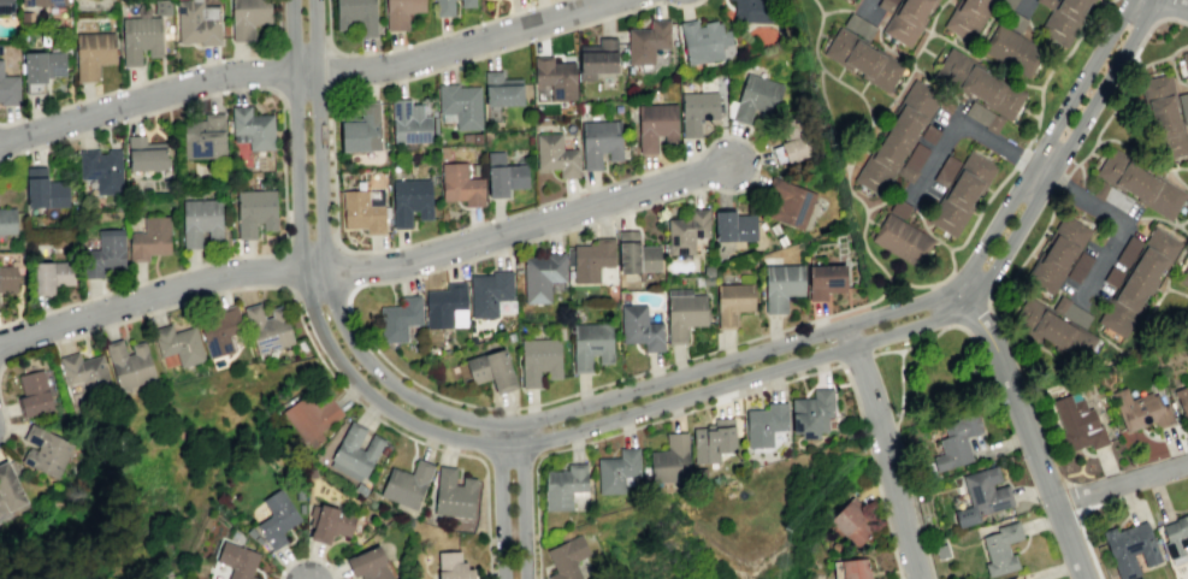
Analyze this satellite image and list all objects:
building: (1011, 1)
building: (41, 2)
building: (466, 2)
building: (886, 4)
road: (1172, 4)
road: (1021, 5)
building: (6, 6)
building: (161, 7)
building: (443, 7)
road: (1166, 8)
road: (835, 10)
road: (870, 10)
building: (751, 11)
building: (400, 12)
building: (965, 14)
building: (355, 16)
building: (247, 17)
road: (863, 17)
building: (1064, 18)
building: (906, 19)
building: (197, 22)
building: (1015, 22)
building: (858, 25)
road: (1148, 29)
building: (140, 35)
building: (702, 40)
road: (419, 41)
building: (646, 41)
road: (887, 47)
road: (303, 51)
building: (1012, 51)
building: (93, 53)
building: (597, 58)
building: (862, 59)
road: (985, 59)
building: (1182, 64)
building: (41, 66)
road: (912, 67)
road: (277, 72)
road: (332, 72)
road: (838, 72)
road: (305, 73)
road: (161, 75)
building: (555, 77)
building: (979, 79)
road: (862, 88)
building: (8, 89)
building: (502, 90)
road: (305, 94)
road: (893, 95)
building: (756, 99)
road: (1118, 99)
building: (460, 105)
building: (1184, 107)
building: (696, 111)
road: (1030, 113)
building: (982, 116)
building: (1165, 118)
road: (828, 119)
building: (409, 123)
building: (655, 125)
building: (250, 128)
building: (360, 129)
building: (896, 132)
road: (863, 135)
building: (203, 136)
building: (466, 137)
building: (475, 137)
building: (792, 140)
building: (598, 142)
building: (443, 152)
building: (146, 154)
building: (555, 154)
road: (1092, 154)
road: (1139, 154)
road: (1012, 165)
building: (101, 169)
building: (475, 169)
road: (1040, 169)
road: (282, 170)
road: (1081, 173)
building: (503, 175)
road: (1177, 179)
building: (1136, 182)
building: (460, 184)
road: (1059, 185)
building: (43, 189)
building: (961, 189)
road: (737, 190)
building: (374, 197)
road: (1081, 197)
building: (1117, 199)
building: (409, 200)
building: (788, 202)
road: (914, 206)
building: (254, 211)
building: (362, 212)
road: (1081, 214)
road: (1157, 218)
building: (6, 220)
building: (201, 221)
road: (871, 223)
road: (928, 224)
building: (734, 226)
road: (1182, 229)
building: (686, 231)
building: (900, 235)
building: (149, 238)
road: (934, 242)
road: (312, 244)
building: (1130, 253)
building: (104, 254)
building: (636, 254)
road: (1028, 254)
building: (1058, 255)
building: (591, 259)
road: (1174, 264)
road: (286, 266)
road: (366, 268)
building: (1081, 270)
road: (343, 271)
building: (51, 274)
building: (542, 274)
building: (7, 278)
building: (1115, 278)
building: (1184, 279)
building: (824, 280)
building: (780, 285)
building: (1140, 285)
building: (489, 291)
road: (318, 293)
building: (732, 302)
road: (938, 305)
building: (445, 307)
road: (974, 313)
building: (684, 314)
building: (1072, 314)
road: (1145, 317)
building: (398, 319)
building: (267, 327)
building: (639, 327)
building: (220, 330)
road: (303, 330)
road: (1097, 331)
building: (1058, 335)
road: (924, 339)
building: (177, 343)
building: (591, 344)
building: (289, 348)
road: (855, 359)
building: (538, 360)
building: (129, 364)
building: (491, 370)
building: (84, 371)
park: (932, 377)
road: (900, 385)
road: (639, 388)
building: (32, 394)
road: (737, 396)
building: (1183, 403)
building: (1140, 408)
road: (640, 412)
building: (811, 413)
building: (308, 415)
road: (6, 423)
building: (764, 424)
building: (1078, 424)
road: (1026, 429)
building: (713, 439)
building: (956, 441)
road: (883, 450)
building: (45, 451)
building: (355, 451)
building: (669, 459)
building: (616, 469)
road: (1121, 483)
building: (406, 484)
building: (563, 485)
building: (8, 488)
building: (360, 489)
building: (453, 494)
building: (299, 495)
building: (982, 495)
road: (912, 500)
road: (498, 501)
road: (521, 501)
road: (1071, 501)
building: (300, 508)
building: (276, 518)
road: (1080, 518)
building: (850, 521)
building: (327, 522)
building: (250, 532)
building: (1176, 536)
building: (258, 539)
building: (1000, 548)
building: (1129, 548)
building: (941, 551)
road: (305, 556)
building: (566, 557)
building: (237, 560)
building: (368, 563)
building: (451, 566)
building: (855, 568)
building: (1139, 578)

